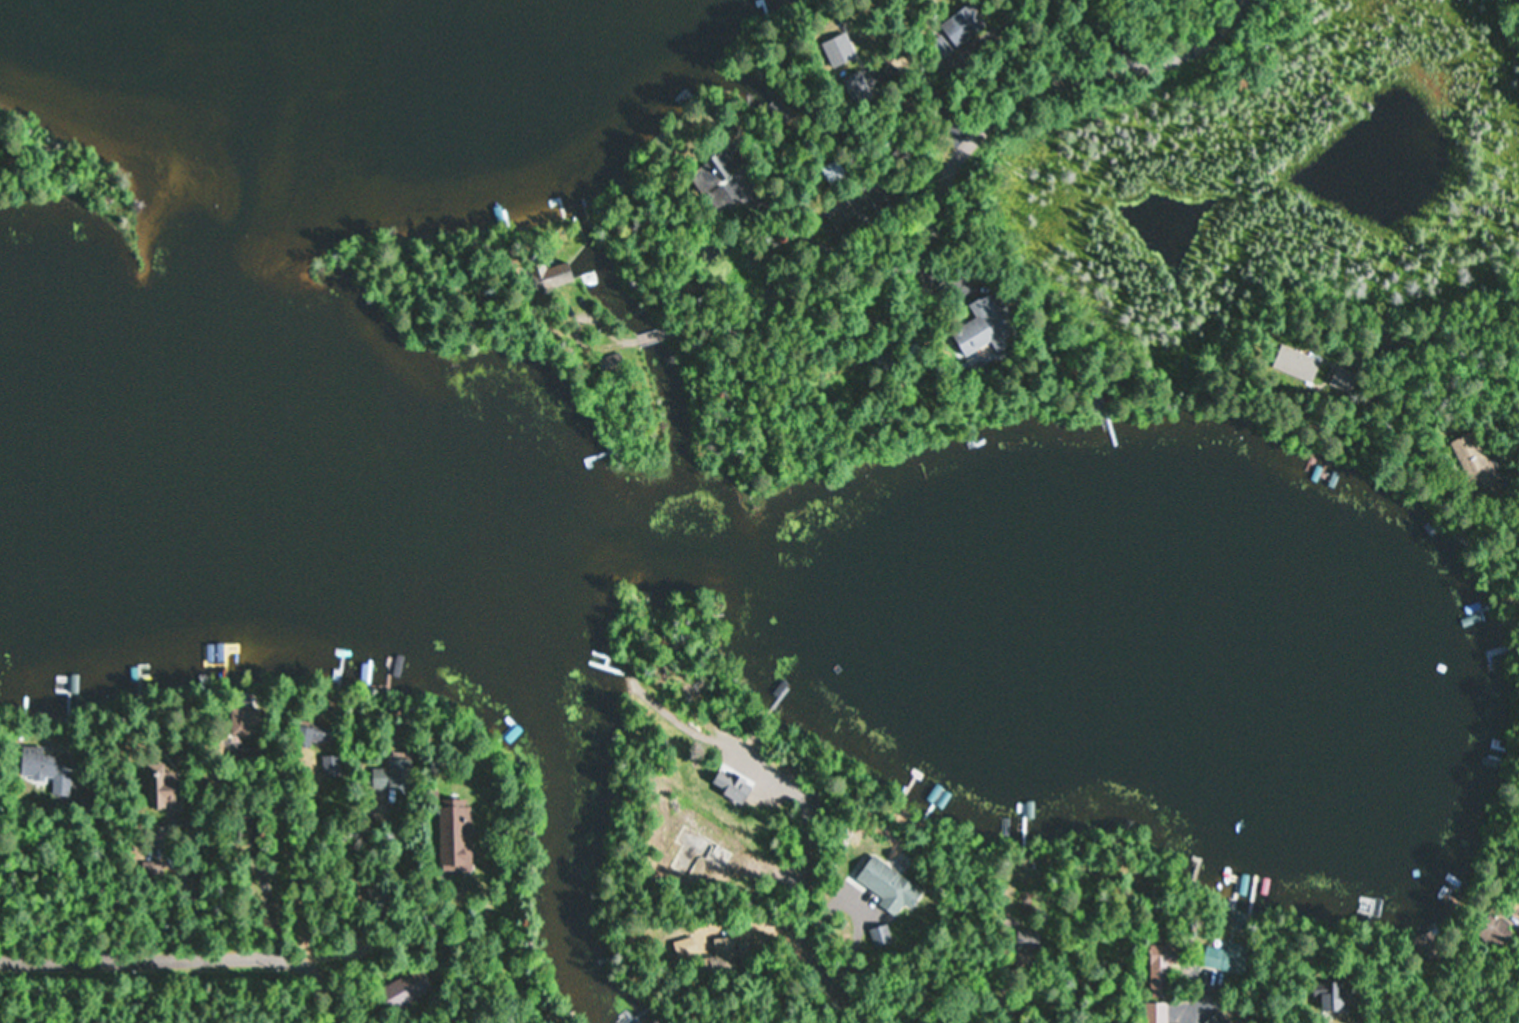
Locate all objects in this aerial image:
building: (748, 16)
building: (964, 30)
building: (940, 49)
building: (835, 51)
building: (855, 85)
road: (1004, 119)
building: (716, 169)
building: (834, 174)
building: (717, 197)
building: (555, 275)
road: (732, 310)
building: (981, 328)
road: (608, 329)
road: (655, 337)
building: (610, 364)
building: (1295, 365)
building: (1469, 456)
building: (242, 721)
building: (315, 733)
building: (46, 768)
building: (391, 776)
building: (161, 787)
building: (455, 835)
building: (717, 856)
building: (885, 884)
building: (1023, 903)
road: (784, 923)
building: (1494, 930)
building: (1028, 940)
building: (685, 947)
building: (723, 948)
road: (185, 952)
building: (1226, 957)
building: (1161, 970)
building: (406, 989)
building: (1337, 997)
road: (1328, 1000)
building: (1156, 1012)

